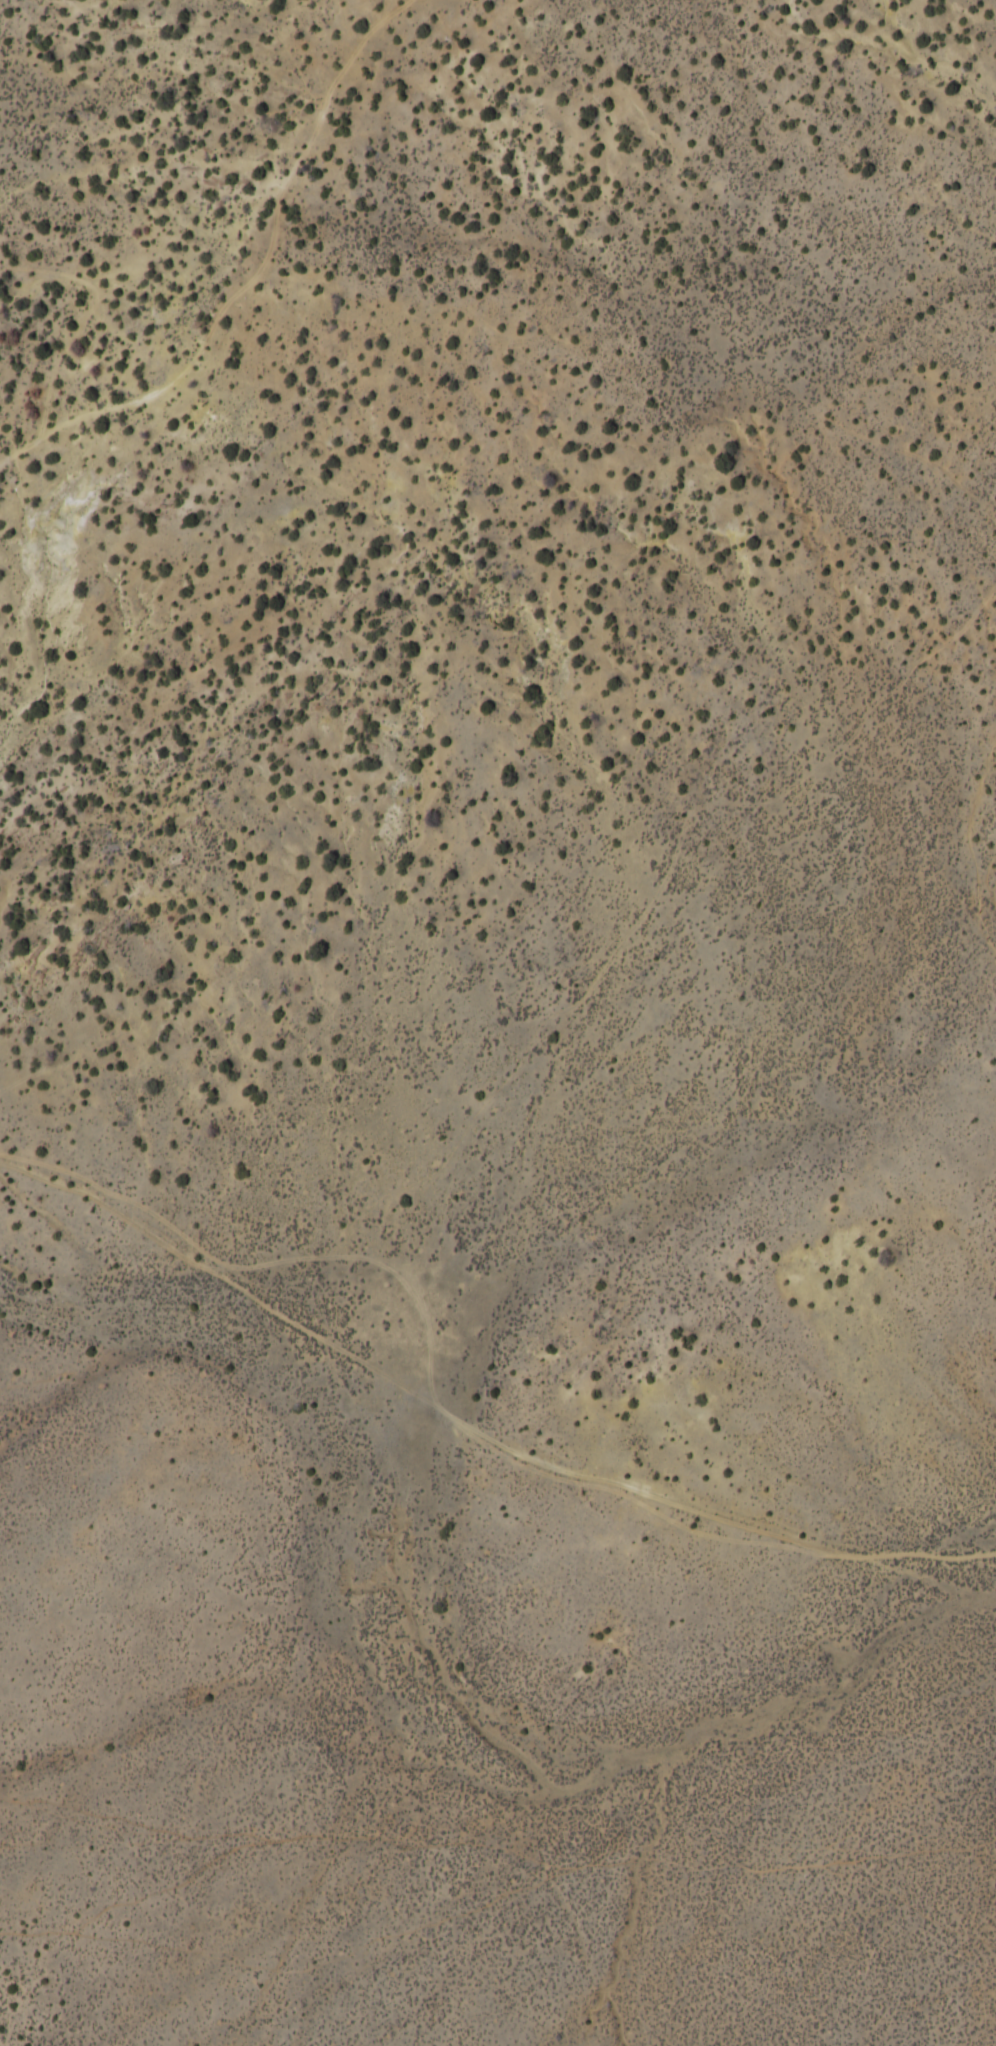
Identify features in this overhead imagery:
road: (407, 235)
road: (464, 403)
road: (120, 752)
road: (284, 833)
road: (485, 1389)

